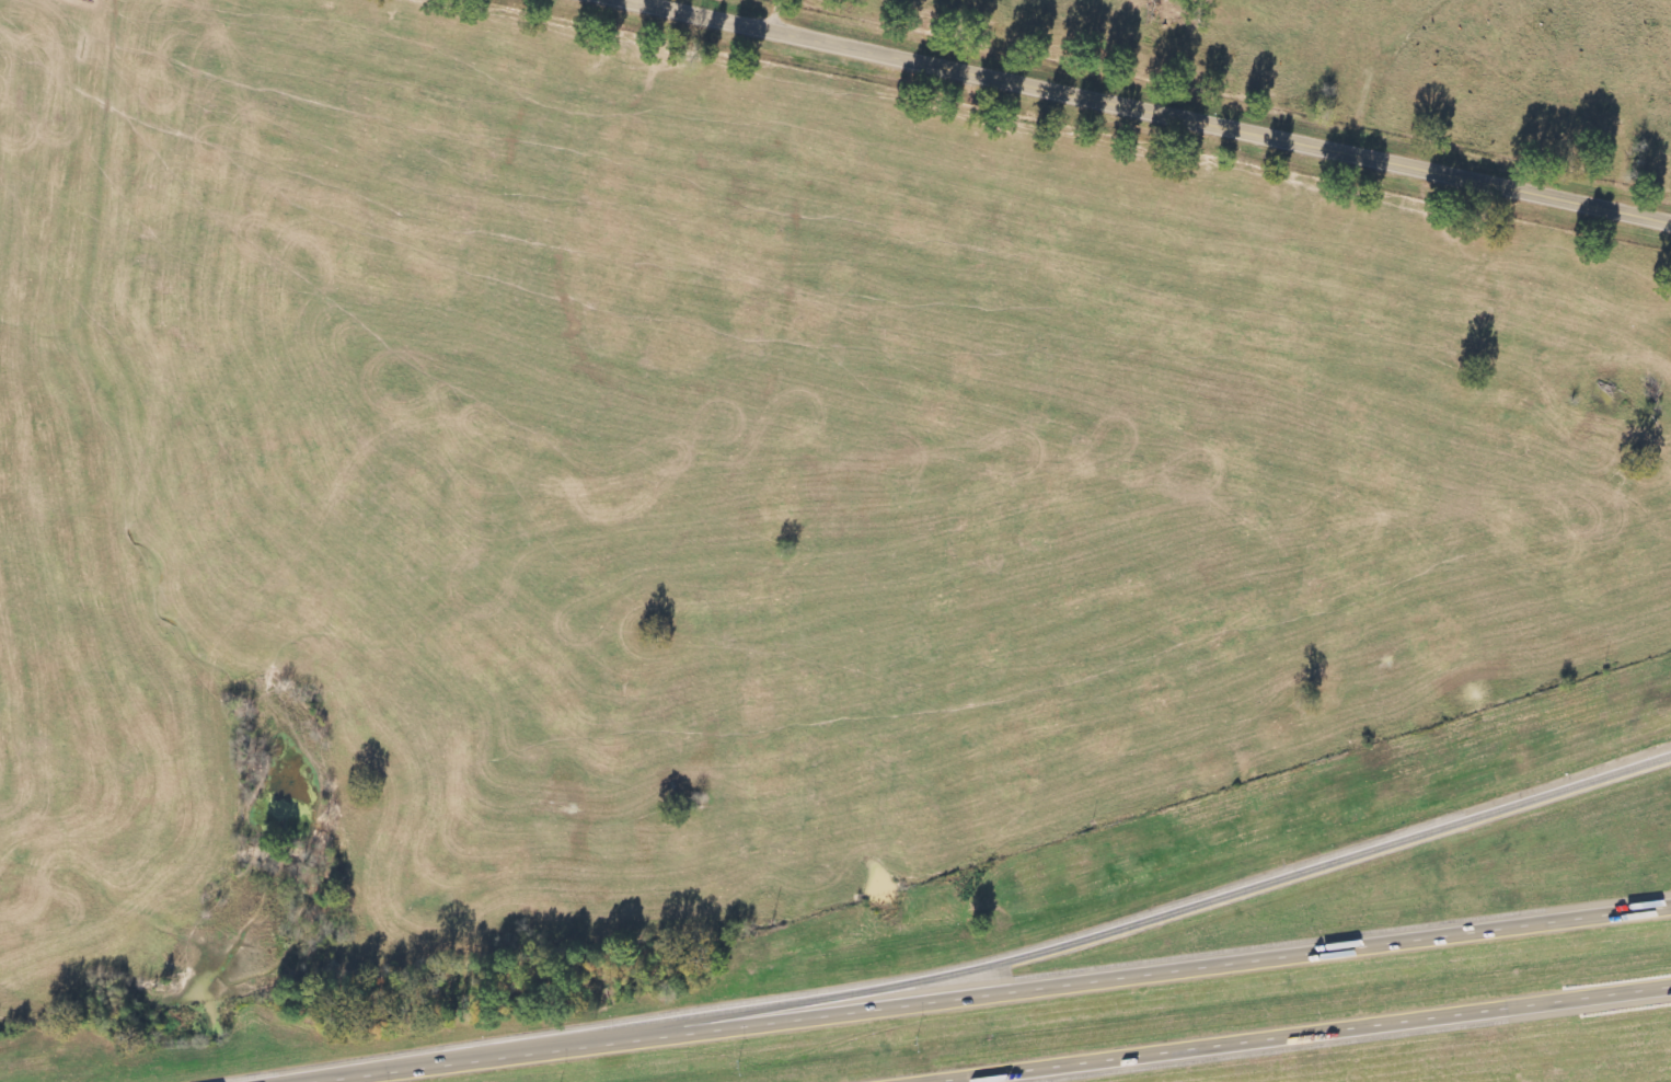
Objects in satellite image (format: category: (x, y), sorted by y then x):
road: (1142, 113)
road: (1074, 937)
road: (986, 992)
road: (1297, 1033)

